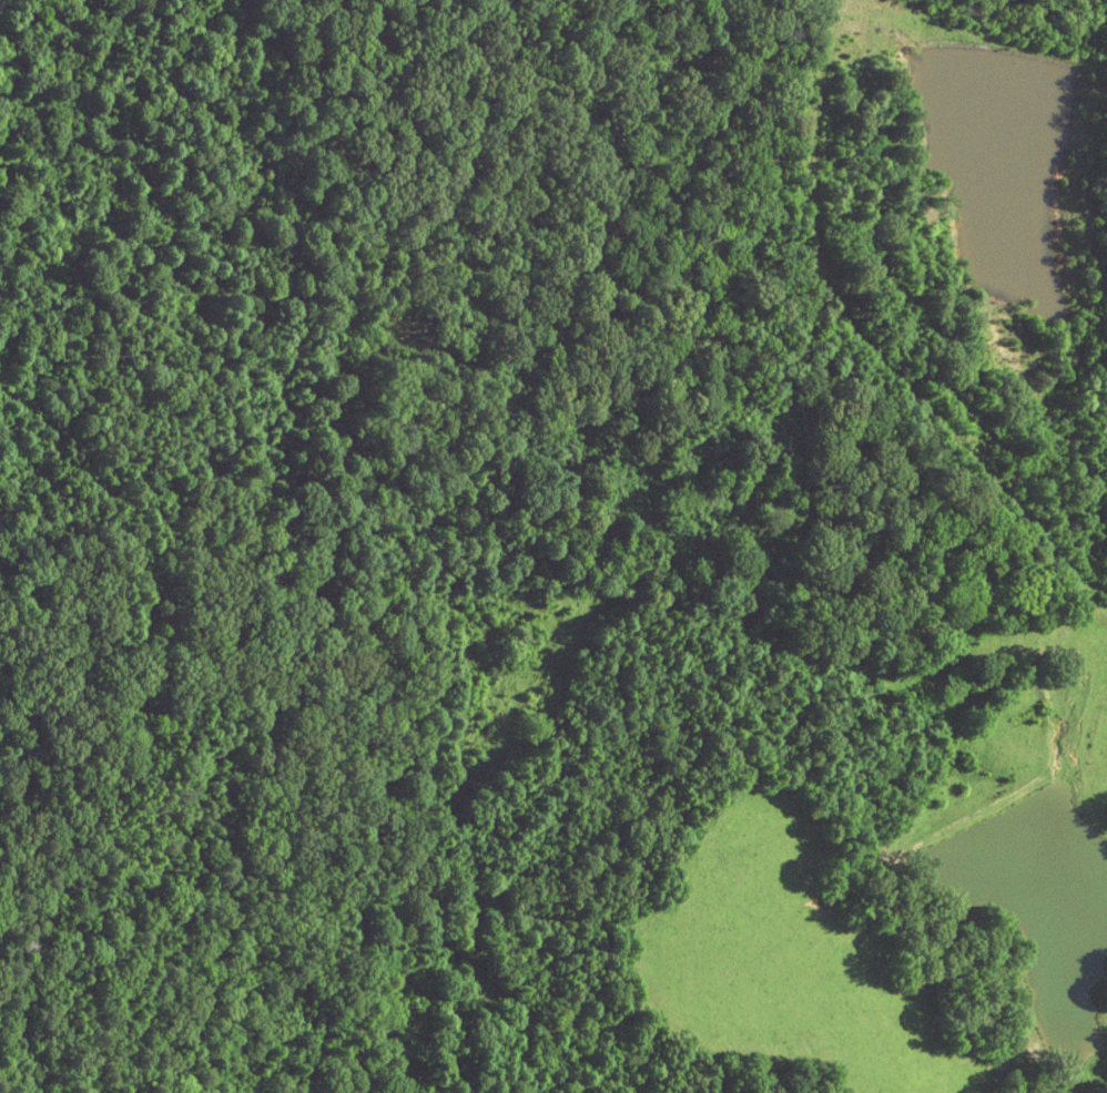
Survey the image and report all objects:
road: (867, 361)

